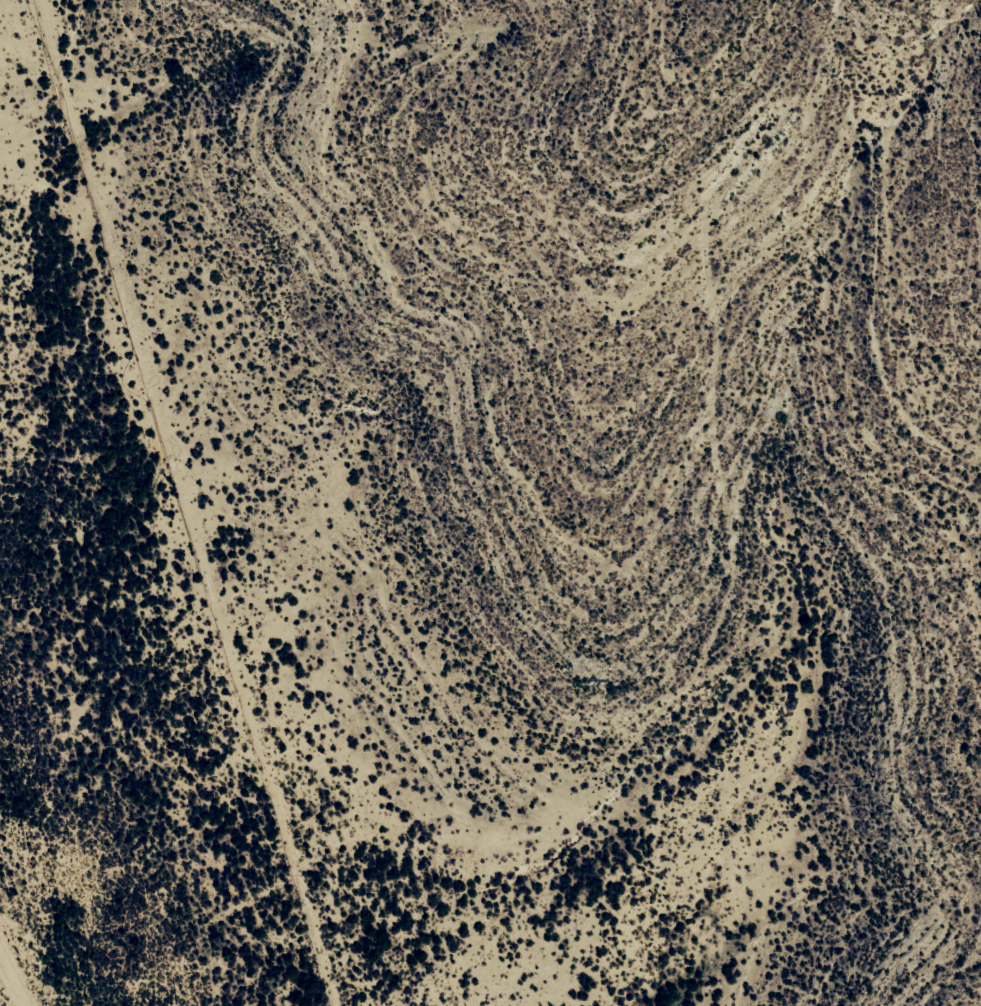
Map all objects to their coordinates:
road: (5, 995)

